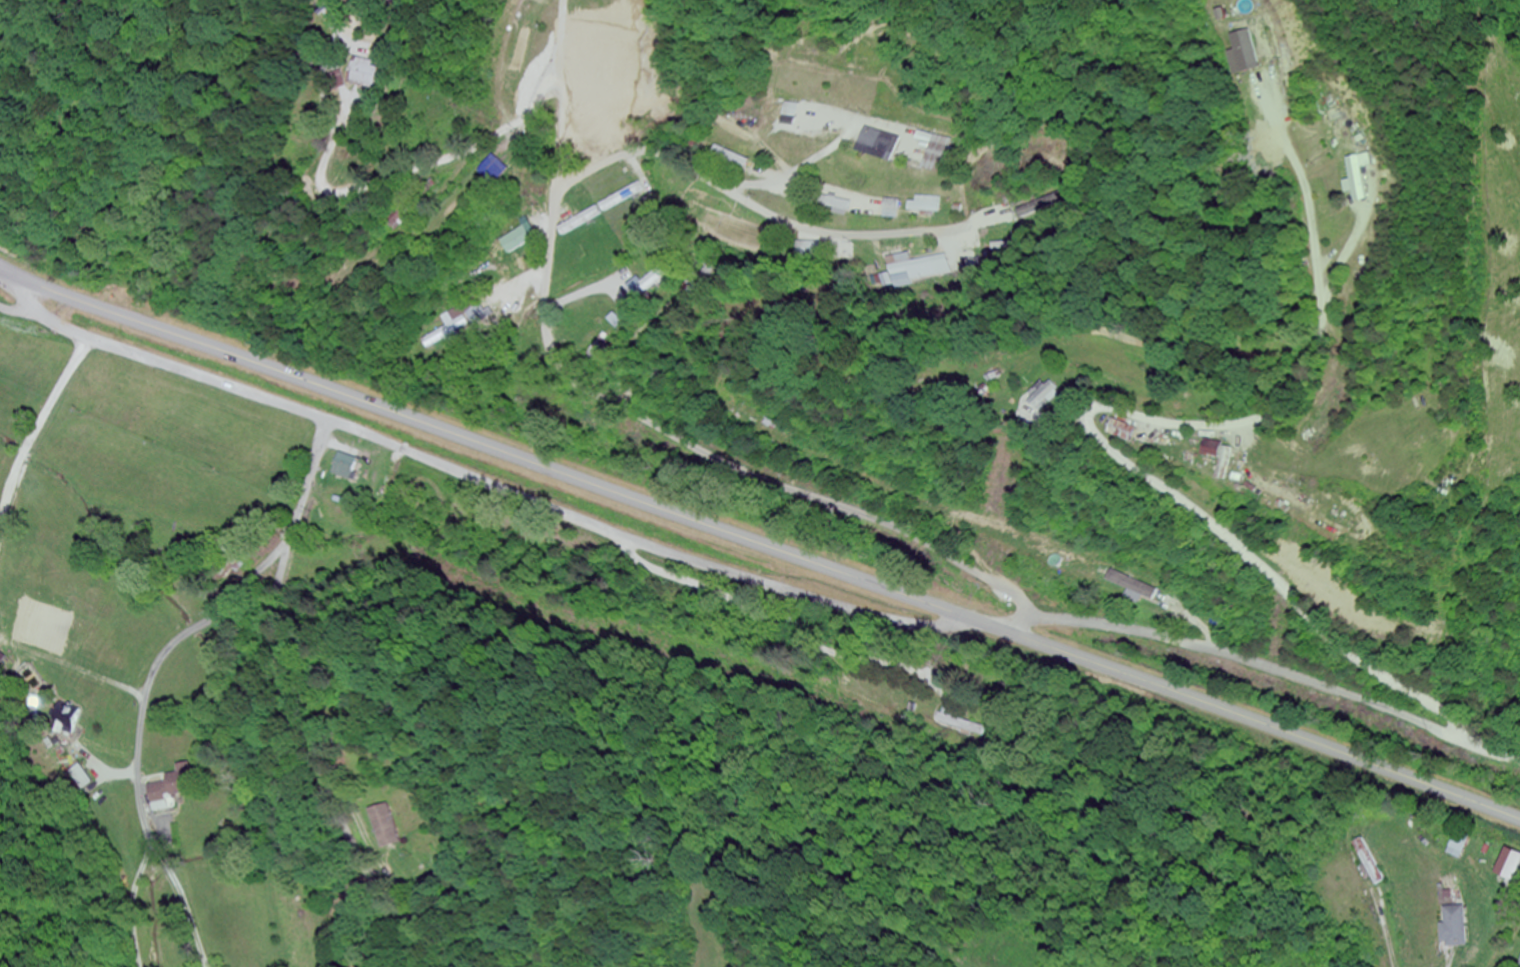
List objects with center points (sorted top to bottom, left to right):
building: (1247, 48)
building: (362, 73)
building: (788, 110)
building: (877, 143)
building: (938, 154)
building: (497, 170)
building: (1352, 178)
building: (622, 198)
road: (754, 203)
building: (926, 206)
building: (892, 209)
building: (580, 221)
building: (1022, 226)
building: (518, 239)
building: (908, 269)
road: (14, 274)
road: (14, 276)
road: (40, 305)
building: (478, 314)
road: (546, 317)
building: (449, 330)
road: (1127, 409)
building: (1120, 431)
building: (1218, 458)
building: (343, 466)
road: (485, 481)
road: (774, 549)
building: (1131, 586)
road: (782, 629)
road: (1270, 668)
road: (293, 689)
road: (140, 728)
building: (385, 826)
building: (1456, 845)
building: (1454, 926)
building: (1519, 965)

